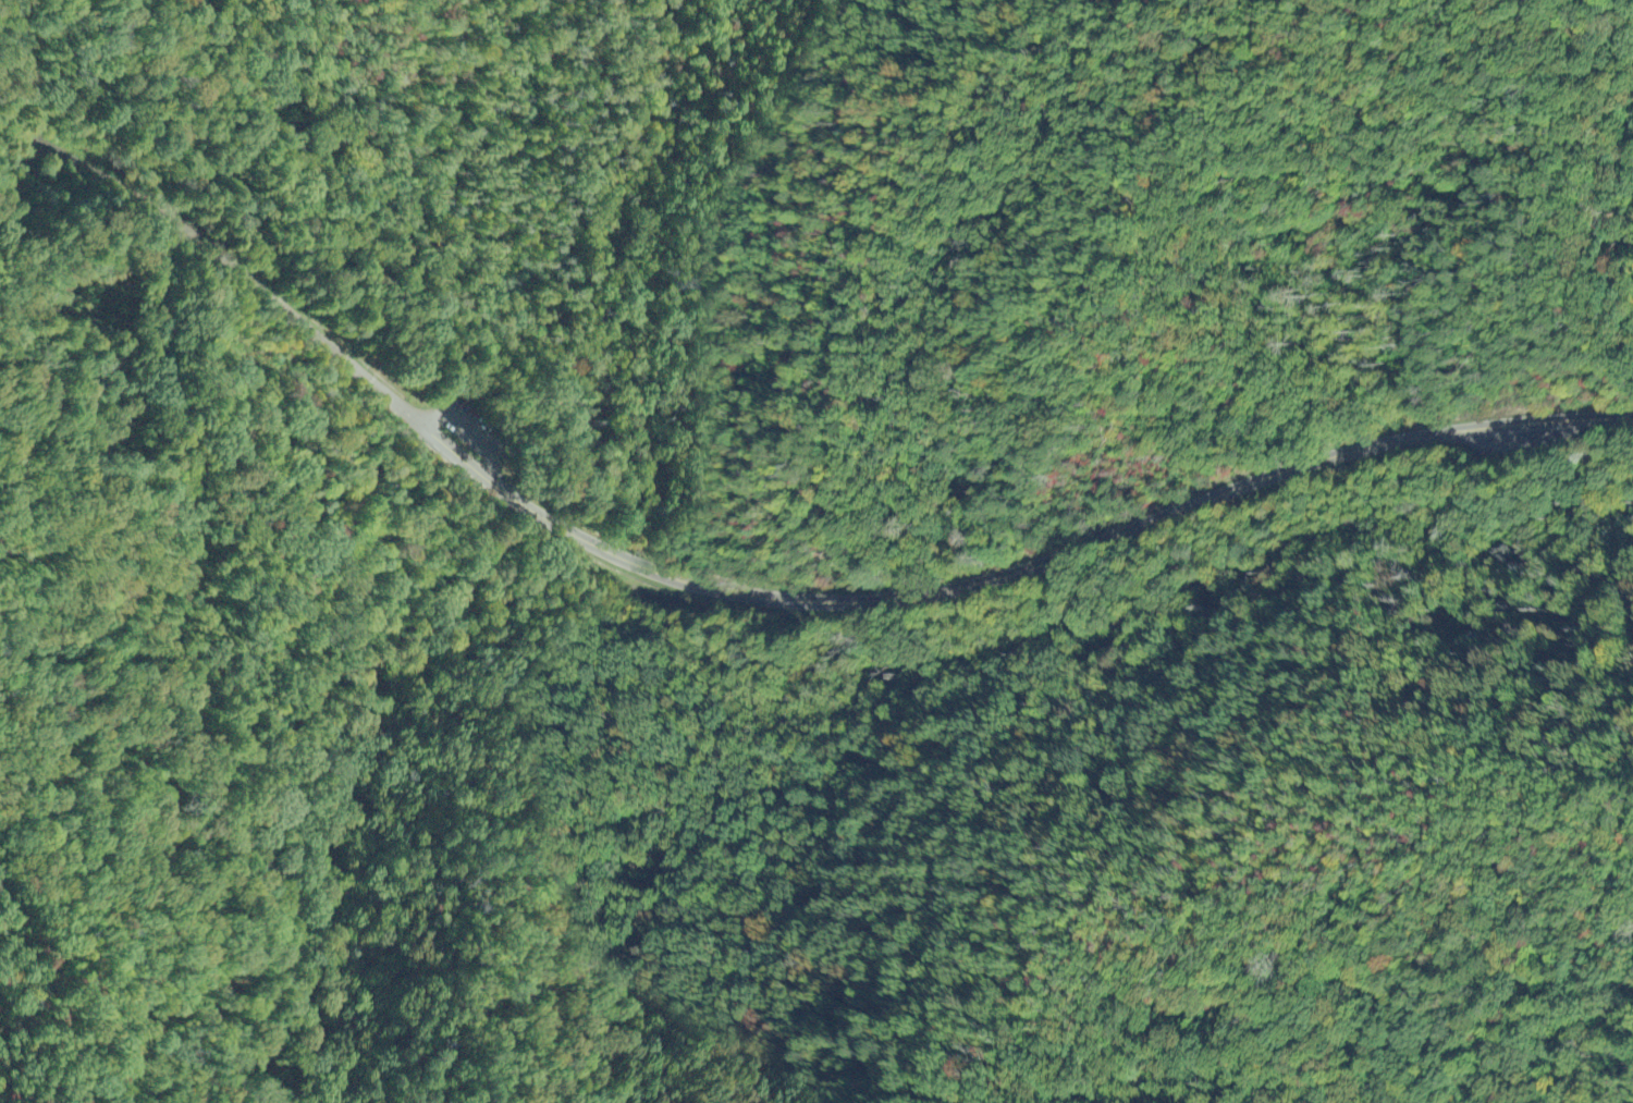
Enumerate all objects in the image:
road: (232, 261)
parking lot: (471, 425)
road: (471, 432)
parking lot: (1524, 441)
road: (1514, 442)
parking lot: (1508, 443)
road: (1012, 574)

